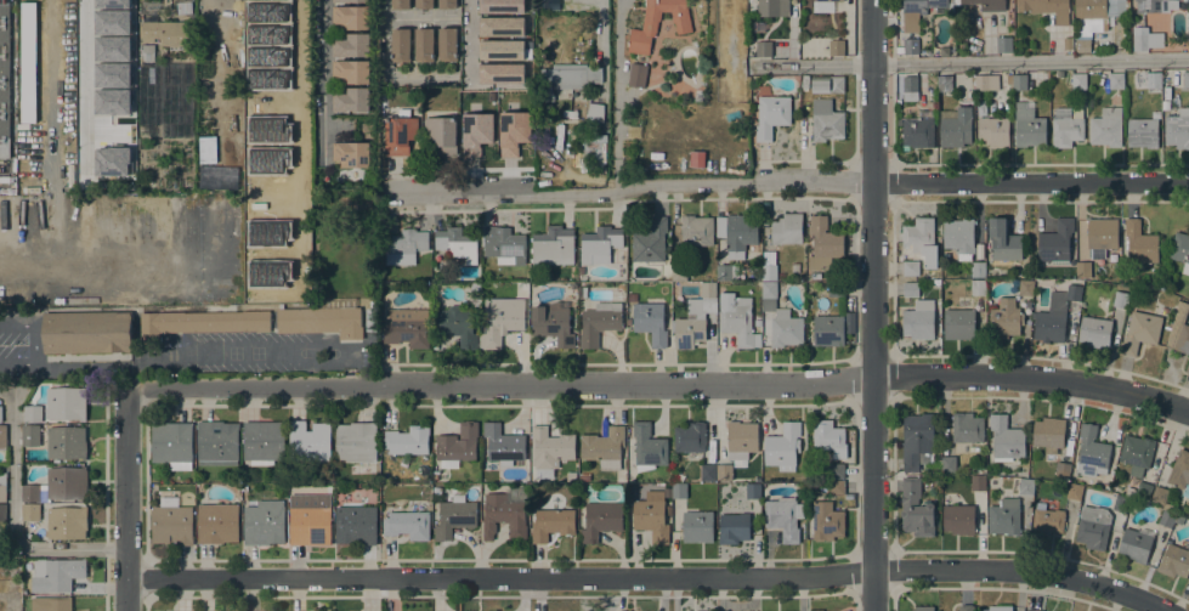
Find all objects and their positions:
building: (827, 0)
building: (350, 1)
building: (400, 4)
building: (424, 4)
building: (447, 4)
building: (986, 4)
building: (1176, 4)
building: (183, 6)
building: (500, 6)
building: (1148, 6)
building: (772, 7)
building: (1047, 9)
building: (959, 10)
building: (1098, 11)
building: (918, 12)
building: (351, 17)
building: (500, 26)
road: (602, 26)
building: (681, 26)
building: (104, 33)
road: (890, 33)
building: (163, 36)
building: (217, 38)
building: (277, 38)
building: (1139, 39)
road: (469, 41)
building: (1066, 43)
building: (1003, 44)
building: (351, 45)
building: (400, 45)
building: (424, 45)
building: (447, 45)
building: (1082, 45)
building: (908, 46)
building: (836, 47)
building: (500, 49)
building: (763, 49)
building: (28, 62)
road: (969, 63)
building: (95, 66)
road: (83, 68)
building: (351, 70)
building: (498, 70)
building: (232, 72)
building: (636, 75)
building: (566, 78)
building: (508, 79)
building: (1008, 79)
building: (1185, 79)
building: (4, 80)
building: (1115, 80)
building: (1153, 80)
building: (1019, 81)
building: (1078, 81)
road: (323, 83)
building: (944, 83)
building: (985, 83)
building: (805, 84)
building: (826, 84)
building: (907, 87)
road: (617, 96)
building: (351, 100)
building: (980, 108)
building: (594, 114)
building: (771, 115)
building: (826, 121)
building: (1027, 125)
building: (956, 128)
building: (1106, 128)
building: (1065, 129)
building: (1177, 129)
building: (993, 131)
building: (475, 132)
building: (513, 132)
building: (917, 132)
building: (1142, 132)
building: (400, 134)
building: (440, 136)
building: (591, 152)
building: (351, 154)
building: (696, 159)
road: (1030, 181)
road: (625, 189)
building: (787, 228)
building: (695, 231)
building: (736, 233)
building: (1100, 236)
building: (958, 237)
building: (921, 239)
building: (1002, 241)
building: (649, 242)
building: (1055, 242)
building: (823, 243)
building: (1139, 243)
building: (457, 244)
building: (599, 244)
building: (505, 245)
building: (404, 247)
building: (551, 247)
building: (1180, 250)
road: (91, 264)
building: (768, 266)
building: (794, 267)
building: (910, 268)
building: (291, 270)
building: (978, 270)
building: (1082, 270)
building: (579, 271)
building: (678, 272)
building: (726, 272)
building: (815, 276)
building: (935, 284)
building: (474, 288)
building: (978, 288)
building: (1025, 288)
building: (834, 289)
building: (910, 289)
building: (768, 290)
building: (632, 298)
building: (1119, 300)
road: (871, 305)
building: (1054, 315)
building: (322, 318)
building: (693, 318)
building: (370, 319)
building: (737, 319)
building: (919, 319)
building: (1004, 319)
building: (502, 321)
building: (551, 322)
building: (599, 322)
building: (650, 322)
building: (849, 322)
building: (198, 323)
building: (458, 323)
building: (958, 324)
building: (406, 328)
building: (785, 329)
building: (828, 330)
building: (1178, 330)
building: (1094, 332)
building: (1139, 332)
building: (86, 333)
road: (34, 345)
building: (1187, 367)
road: (662, 384)
building: (64, 403)
building: (0, 414)
building: (32, 414)
building: (966, 428)
building: (1048, 434)
building: (29, 435)
building: (2, 437)
building: (689, 437)
building: (828, 437)
building: (740, 439)
building: (407, 440)
building: (1006, 440)
building: (308, 441)
building: (917, 441)
building: (66, 442)
building: (262, 442)
building: (355, 442)
building: (216, 443)
building: (457, 443)
building: (171, 445)
building: (503, 445)
building: (604, 447)
building: (647, 447)
building: (782, 447)
building: (549, 449)
building: (1091, 452)
building: (1136, 453)
building: (947, 464)
building: (834, 470)
building: (1061, 470)
building: (723, 471)
building: (707, 473)
building: (1179, 473)
building: (978, 483)
building: (56, 485)
building: (2, 487)
building: (1025, 487)
building: (838, 490)
building: (1143, 490)
building: (436, 491)
building: (678, 491)
building: (752, 491)
building: (1074, 492)
building: (1159, 494)
road: (125, 499)
building: (1120, 503)
building: (915, 508)
building: (2, 511)
building: (30, 511)
building: (504, 513)
building: (454, 516)
building: (651, 516)
building: (1003, 516)
building: (783, 517)
building: (958, 519)
building: (1166, 519)
building: (600, 520)
building: (1178, 520)
building: (826, 521)
building: (66, 522)
building: (216, 522)
building: (264, 522)
building: (1046, 522)
road: (12, 524)
building: (551, 524)
building: (171, 525)
building: (310, 525)
building: (355, 525)
building: (407, 525)
building: (696, 526)
building: (732, 527)
building: (1092, 527)
building: (1134, 544)
building: (1174, 561)
road: (1023, 570)
building: (55, 575)
road: (499, 577)
building: (15, 598)
building: (50, 604)
building: (16, 607)
building: (964, 607)
building: (922, 609)
building: (998, 609)
building: (1032, 609)

